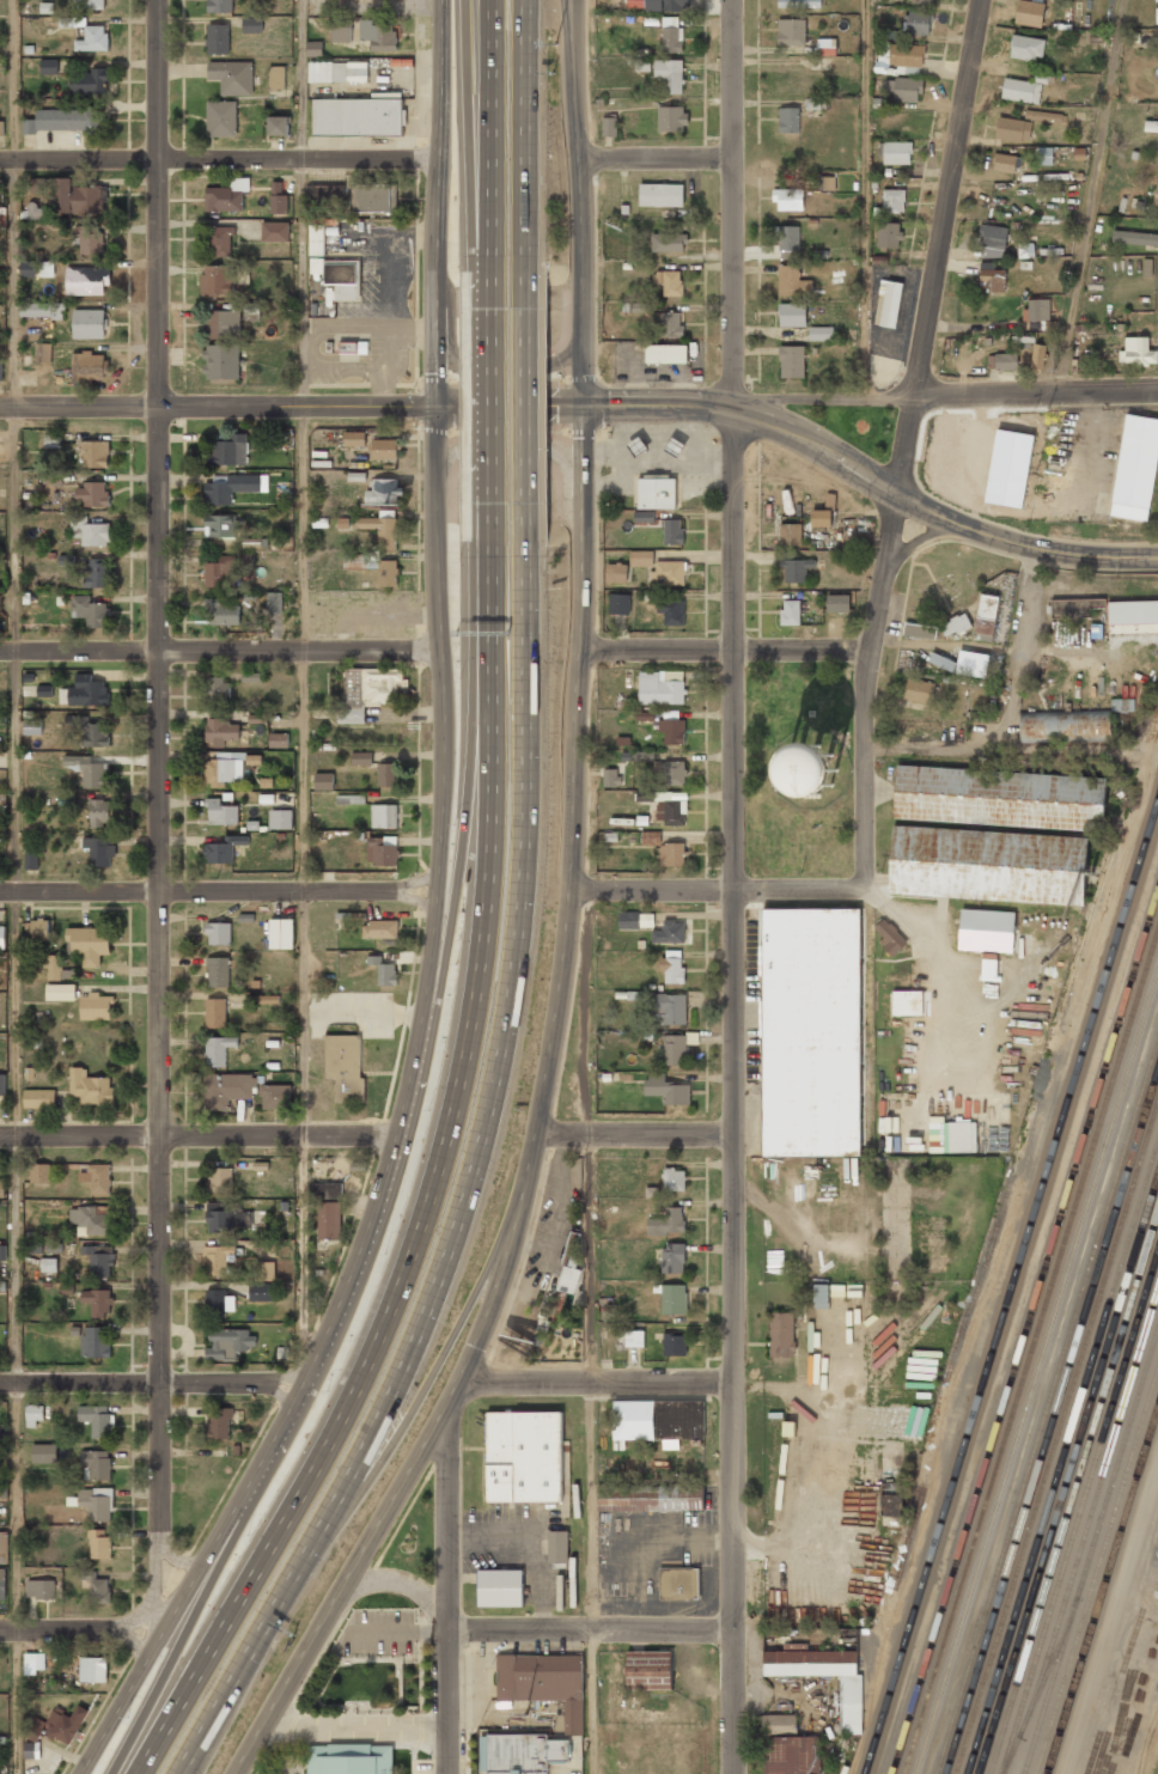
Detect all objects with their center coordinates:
building: (922, 1)
building: (798, 2)
building: (89, 4)
building: (665, 5)
building: (220, 6)
building: (1029, 12)
building: (1157, 14)
building: (651, 20)
building: (919, 20)
building: (68, 22)
building: (251, 24)
building: (342, 30)
building: (791, 31)
building: (885, 33)
building: (380, 35)
building: (671, 35)
building: (92, 38)
building: (218, 38)
building: (825, 47)
building: (1026, 47)
building: (313, 48)
building: (906, 54)
building: (642, 63)
road: (573, 65)
building: (49, 66)
building: (337, 74)
building: (669, 74)
building: (232, 77)
building: (276, 77)
building: (90, 81)
building: (908, 89)
building: (1020, 90)
building: (812, 103)
building: (1046, 116)
building: (221, 118)
building: (671, 118)
building: (62, 120)
building: (356, 120)
building: (788, 120)
building: (278, 126)
building: (609, 126)
building: (1151, 126)
building: (1, 127)
building: (1013, 129)
road: (494, 140)
road: (529, 141)
road: (465, 142)
building: (894, 152)
road: (439, 153)
road: (658, 156)
building: (1044, 156)
road: (219, 160)
building: (1007, 161)
road: (585, 171)
building: (884, 171)
building: (824, 182)
building: (873, 182)
building: (325, 193)
building: (660, 194)
building: (226, 195)
building: (1156, 195)
road: (1092, 196)
building: (78, 197)
building: (373, 197)
building: (278, 199)
building: (787, 199)
road: (865, 199)
building: (894, 200)
building: (36, 212)
building: (876, 212)
building: (1, 220)
building: (331, 230)
building: (275, 231)
building: (889, 233)
building: (993, 236)
building: (1134, 237)
building: (90, 239)
building: (316, 239)
building: (221, 240)
building: (668, 242)
building: (788, 242)
building: (1024, 250)
building: (879, 260)
building: (316, 264)
building: (1147, 267)
building: (37, 268)
building: (343, 278)
building: (991, 278)
building: (86, 280)
building: (219, 280)
building: (669, 281)
building: (792, 281)
building: (889, 301)
building: (626, 306)
building: (642, 307)
building: (1037, 309)
building: (42, 310)
building: (791, 313)
building: (89, 323)
building: (224, 324)
building: (671, 324)
building: (821, 333)
building: (347, 347)
building: (362, 347)
building: (1139, 350)
building: (43, 353)
building: (665, 353)
building: (1037, 355)
building: (221, 361)
building: (791, 361)
building: (1002, 361)
building: (89, 366)
building: (1, 368)
road: (496, 373)
road: (1036, 392)
road: (824, 398)
traffic signals: (586, 401)
road: (367, 406)
traffic signals: (432, 406)
road: (493, 417)
road: (531, 419)
road: (909, 434)
building: (354, 438)
building: (51, 440)
building: (636, 446)
road: (520, 447)
building: (675, 447)
building: (384, 449)
building: (230, 451)
building: (95, 453)
building: (1008, 468)
building: (1136, 474)
building: (49, 476)
building: (232, 487)
building: (656, 490)
building: (383, 492)
building: (91, 494)
road: (935, 511)
building: (644, 516)
building: (821, 518)
road: (437, 524)
building: (221, 525)
building: (382, 530)
building: (90, 531)
building: (672, 532)
building: (790, 535)
road: (920, 538)
building: (640, 557)
road: (733, 563)
building: (373, 566)
road: (158, 567)
building: (797, 568)
building: (219, 572)
building: (615, 572)
building: (670, 572)
building: (93, 573)
building: (273, 602)
building: (618, 603)
building: (837, 603)
building: (1074, 606)
building: (89, 610)
building: (670, 611)
building: (1133, 611)
building: (223, 612)
building: (790, 612)
building: (986, 614)
building: (955, 624)
building: (919, 630)
road: (219, 647)
road: (725, 647)
building: (941, 660)
building: (971, 663)
building: (251, 677)
building: (659, 689)
building: (44, 690)
building: (218, 690)
building: (919, 690)
building: (85, 691)
building: (367, 691)
road: (304, 693)
building: (1122, 703)
building: (645, 715)
building: (256, 718)
building: (919, 723)
building: (32, 726)
building: (1063, 726)
building: (87, 731)
building: (221, 731)
building: (672, 731)
road: (579, 738)
building: (279, 739)
building: (622, 740)
building: (636, 756)
building: (361, 757)
building: (225, 767)
road: (531, 767)
building: (810, 768)
building: (87, 769)
building: (674, 772)
building: (386, 774)
building: (610, 776)
building: (323, 781)
road: (467, 788)
building: (645, 795)
building: (999, 797)
building: (351, 799)
road: (495, 799)
building: (98, 812)
building: (221, 812)
building: (672, 812)
building: (384, 816)
building: (281, 818)
building: (641, 819)
building: (610, 836)
building: (650, 837)
building: (223, 849)
building: (382, 849)
building: (99, 851)
building: (671, 854)
building: (32, 860)
building: (988, 865)
road: (13, 886)
road: (724, 888)
road: (219, 890)
building: (634, 920)
building: (37, 929)
building: (379, 929)
building: (986, 929)
building: (219, 933)
building: (281, 933)
building: (669, 933)
building: (2, 937)
building: (890, 937)
road: (433, 940)
building: (90, 944)
building: (988, 964)
building: (55, 967)
building: (384, 970)
building: (671, 970)
building: (218, 971)
building: (61, 992)
building: (628, 994)
building: (268, 999)
building: (96, 1006)
building: (671, 1007)
building: (215, 1012)
building: (811, 1036)
building: (675, 1049)
building: (218, 1050)
building: (345, 1066)
building: (2, 1084)
building: (90, 1086)
building: (227, 1089)
building: (668, 1089)
building: (276, 1096)
building: (38, 1098)
railway: (1025, 1128)
road: (640, 1130)
road: (200, 1136)
building: (959, 1136)
building: (39, 1172)
building: (97, 1178)
building: (220, 1179)
building: (672, 1181)
building: (328, 1190)
building: (226, 1217)
building: (91, 1220)
building: (329, 1220)
building: (669, 1220)
building: (54, 1248)
building: (218, 1258)
building: (674, 1258)
building: (99, 1260)
building: (49, 1264)
building: (571, 1267)
building: (264, 1270)
railway: (1011, 1288)
building: (261, 1292)
building: (675, 1300)
building: (98, 1301)
building: (218, 1303)
road: (589, 1329)
building: (781, 1334)
railway: (1025, 1335)
building: (95, 1341)
building: (629, 1341)
building: (228, 1342)
building: (674, 1346)
railway: (1031, 1353)
road: (451, 1359)
road: (161, 1364)
railway: (1036, 1371)
road: (152, 1376)
road: (598, 1378)
railway: (1042, 1388)
road: (401, 1395)
railway: (1047, 1406)
building: (35, 1414)
building: (97, 1419)
railway: (1052, 1420)
building: (657, 1421)
building: (219, 1424)
road: (343, 1425)
railway: (1056, 1439)
road: (733, 1451)
building: (44, 1453)
railway: (1062, 1456)
building: (526, 1462)
road: (420, 1463)
building: (96, 1464)
road: (258, 1464)
railway: (1067, 1475)
building: (4, 1489)
railway: (1074, 1495)
building: (650, 1498)
building: (95, 1502)
building: (891, 1505)
building: (784, 1508)
railway: (1079, 1512)
road: (447, 1519)
railway: (1085, 1531)
building: (99, 1543)
building: (4, 1547)
building: (557, 1547)
railway: (1090, 1552)
railway: (1097, 1572)
building: (678, 1583)
building: (2, 1584)
road: (406, 1584)
building: (500, 1587)
building: (41, 1589)
building: (98, 1589)
railway: (1103, 1591)
road: (590, 1627)
road: (181, 1633)
road: (78, 1638)
building: (35, 1662)
building: (93, 1669)
building: (648, 1670)
building: (822, 1675)
building: (544, 1682)
road: (447, 1700)
building: (780, 1723)
building: (65, 1724)
building: (36, 1725)
building: (520, 1752)
building: (792, 1755)
building: (349, 1758)
building: (1156, 1764)

